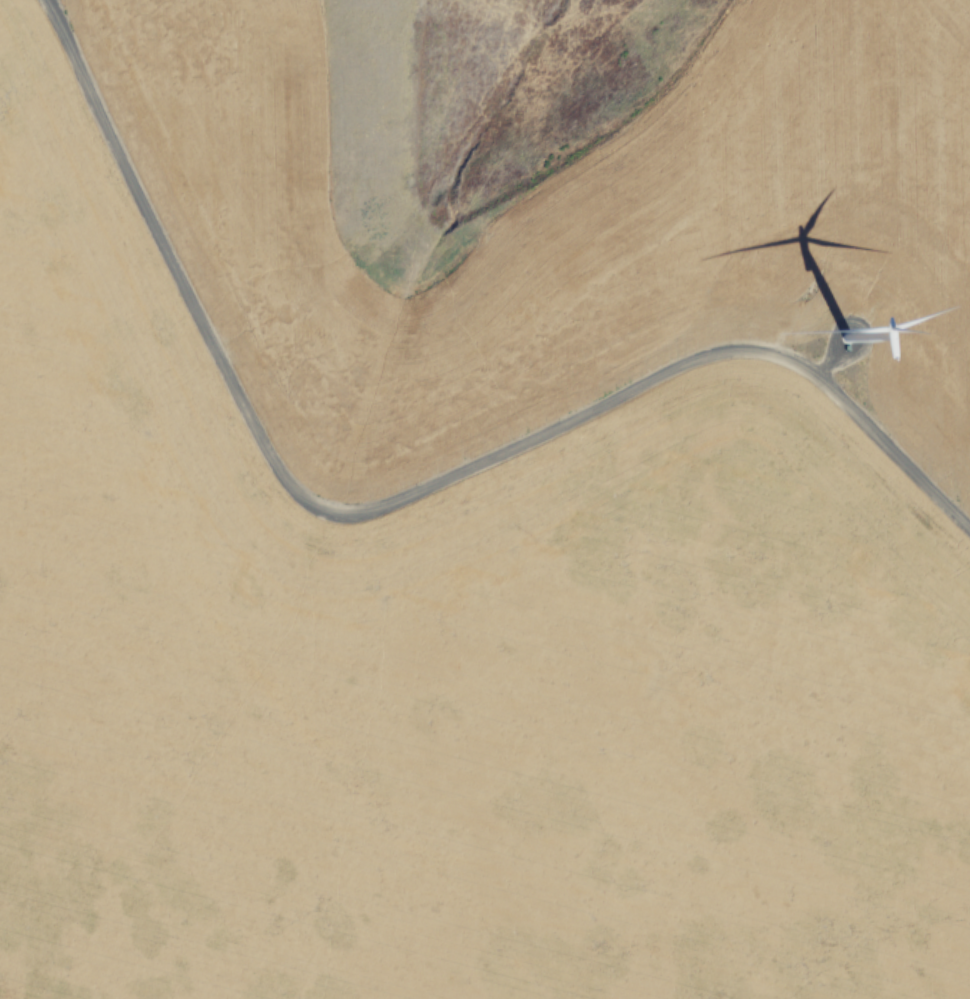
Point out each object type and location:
wind turbine: (846, 333)

